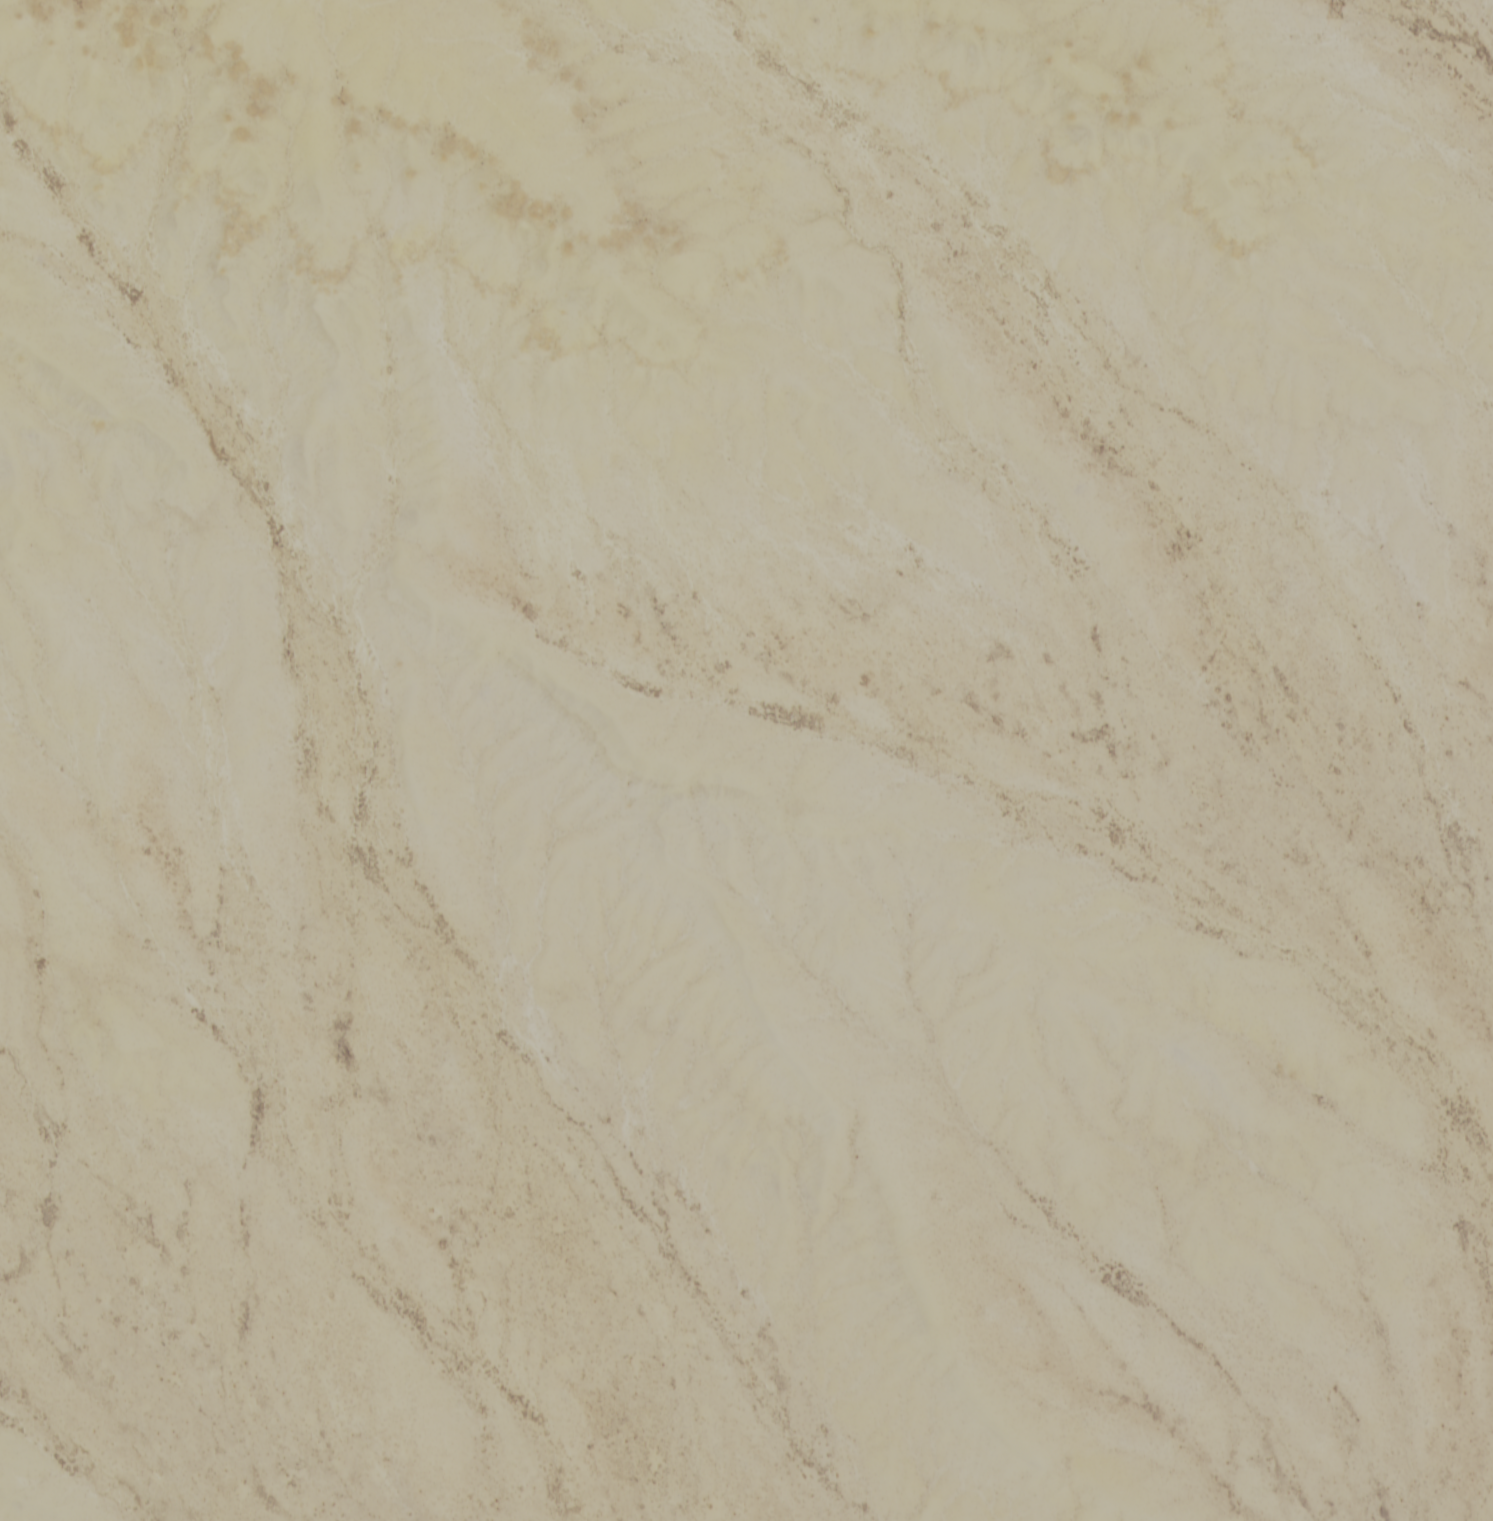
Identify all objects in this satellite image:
power tower: (1349, 8)

